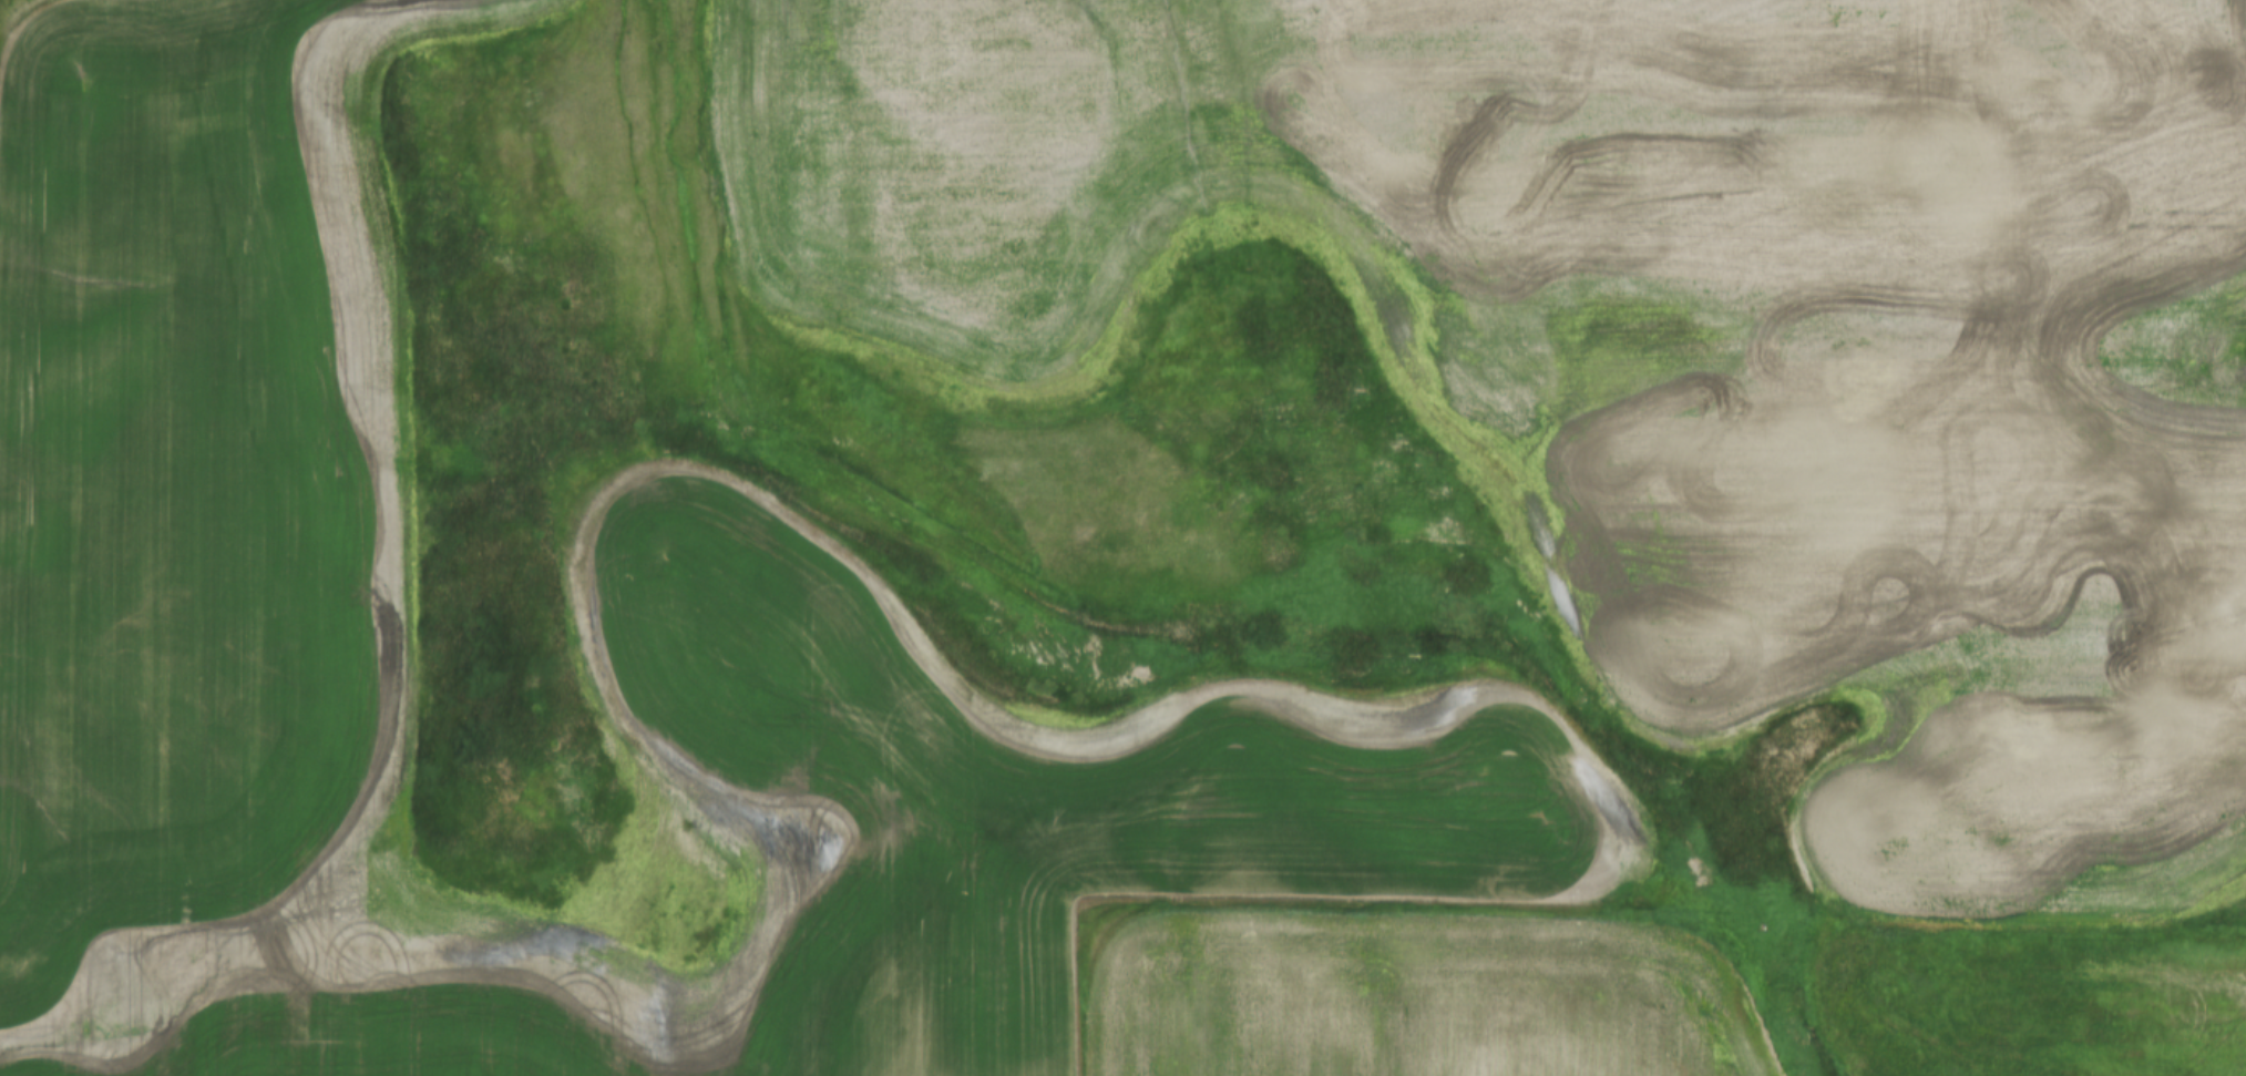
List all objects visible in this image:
building: (2224, 196)
building: (2092, 296)

